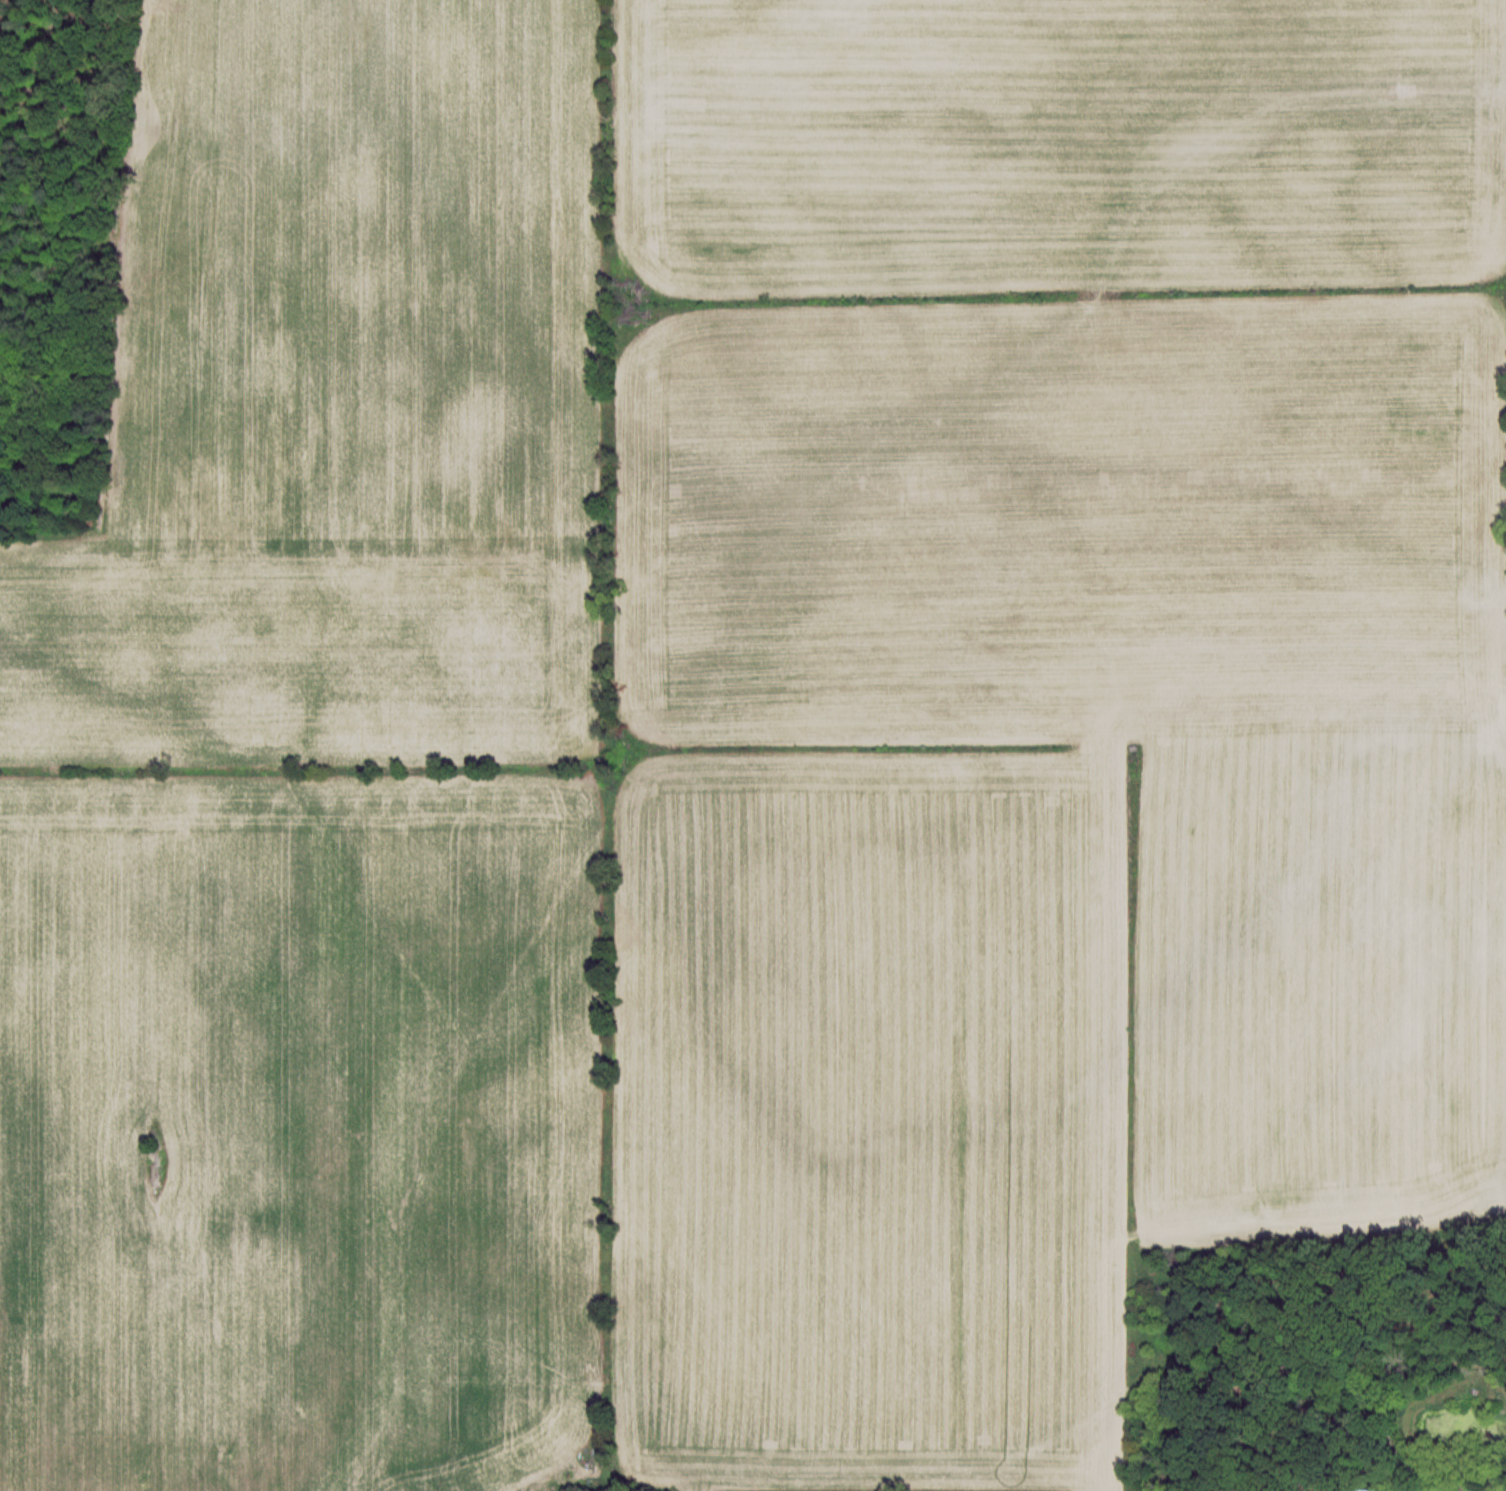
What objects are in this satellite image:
building: (1374, 1489)

